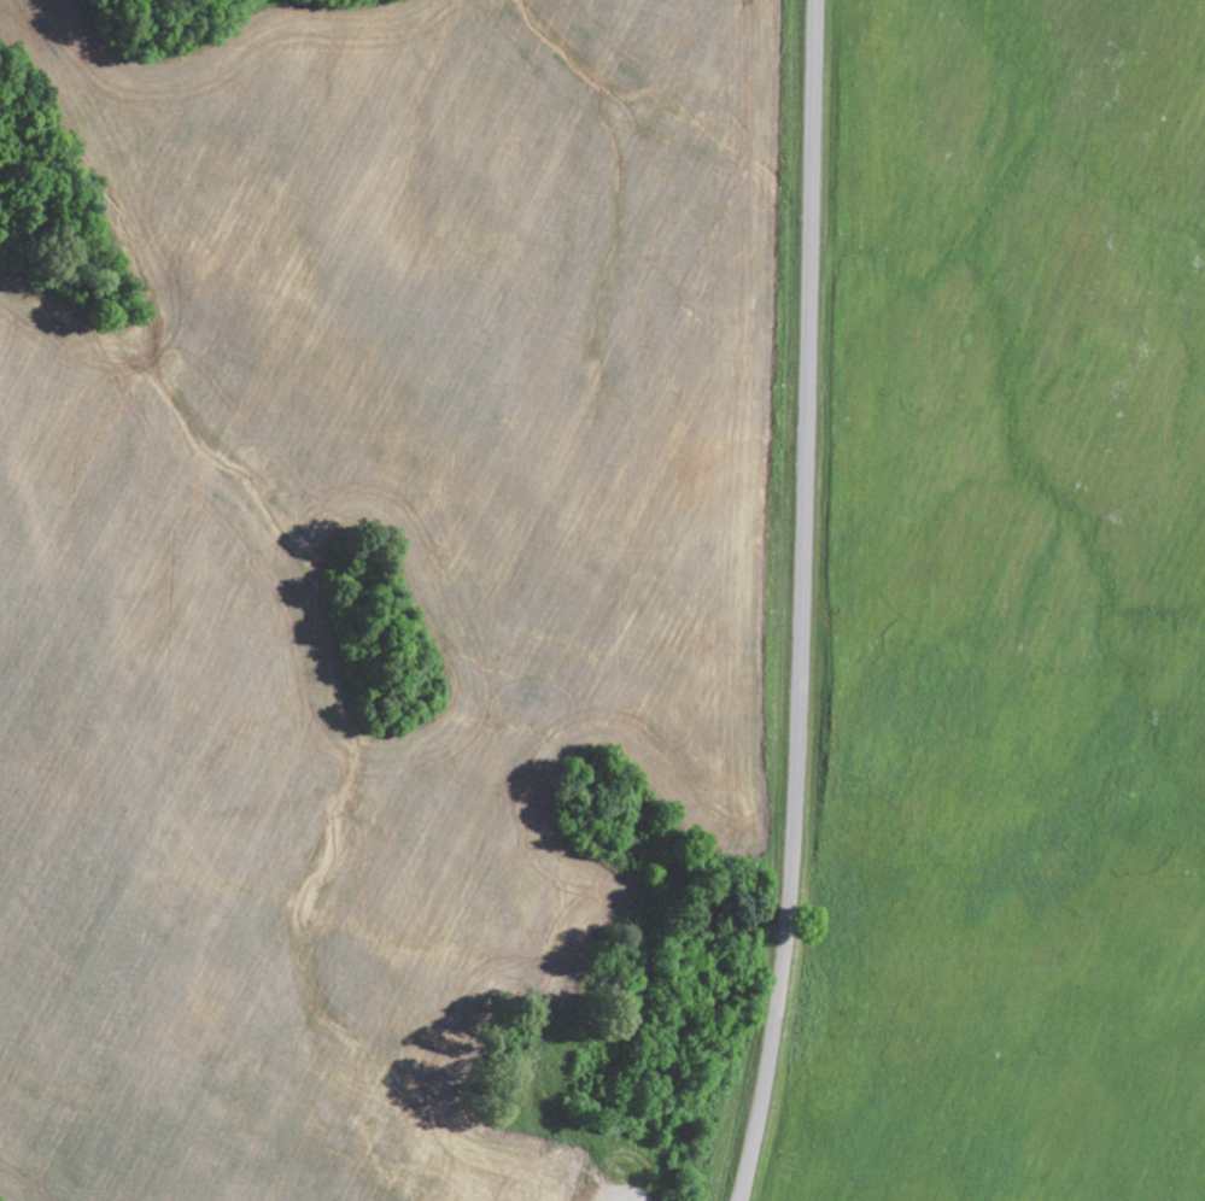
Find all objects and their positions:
road: (802, 602)

